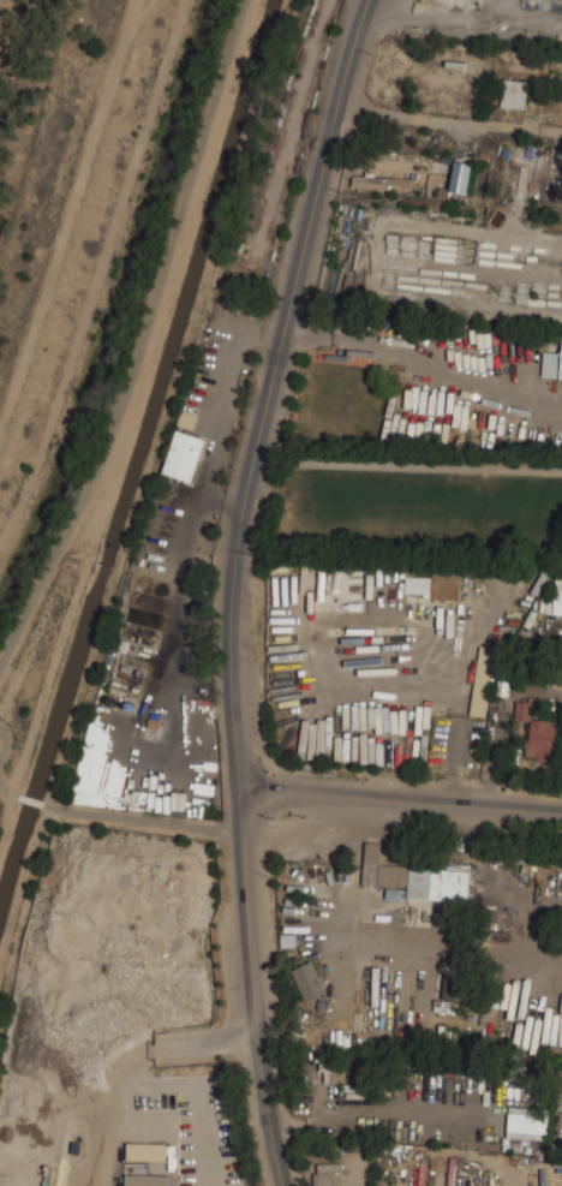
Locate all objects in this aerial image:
building: (549, 30)
building: (515, 93)
building: (548, 161)
building: (464, 174)
building: (383, 181)
road: (68, 219)
road: (142, 340)
building: (551, 365)
building: (185, 454)
road: (407, 464)
building: (447, 583)
road: (231, 585)
building: (558, 592)
building: (395, 711)
building: (544, 740)
road: (1, 764)
road: (399, 797)
road: (31, 799)
road: (142, 818)
building: (415, 876)
building: (310, 979)
road: (161, 1047)
building: (333, 1072)
building: (527, 1124)
building: (329, 1174)

